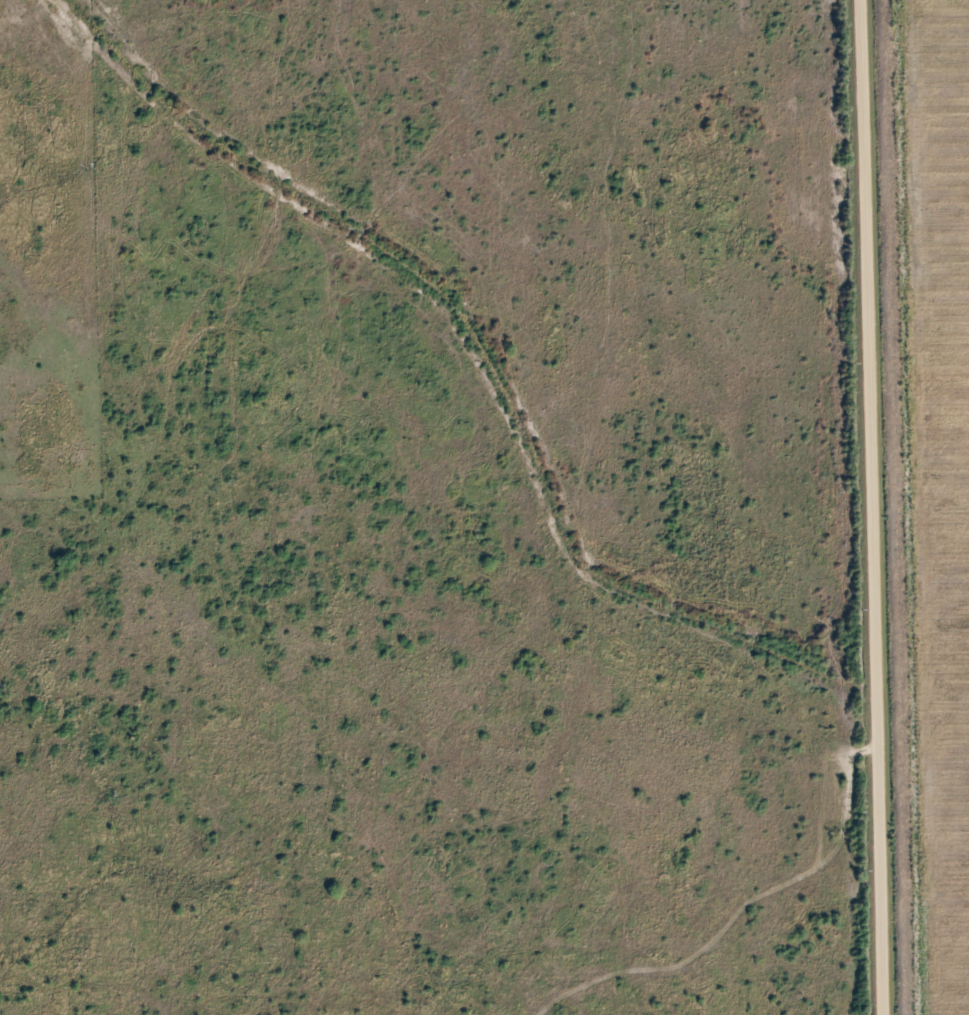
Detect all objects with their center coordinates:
road: (875, 507)

